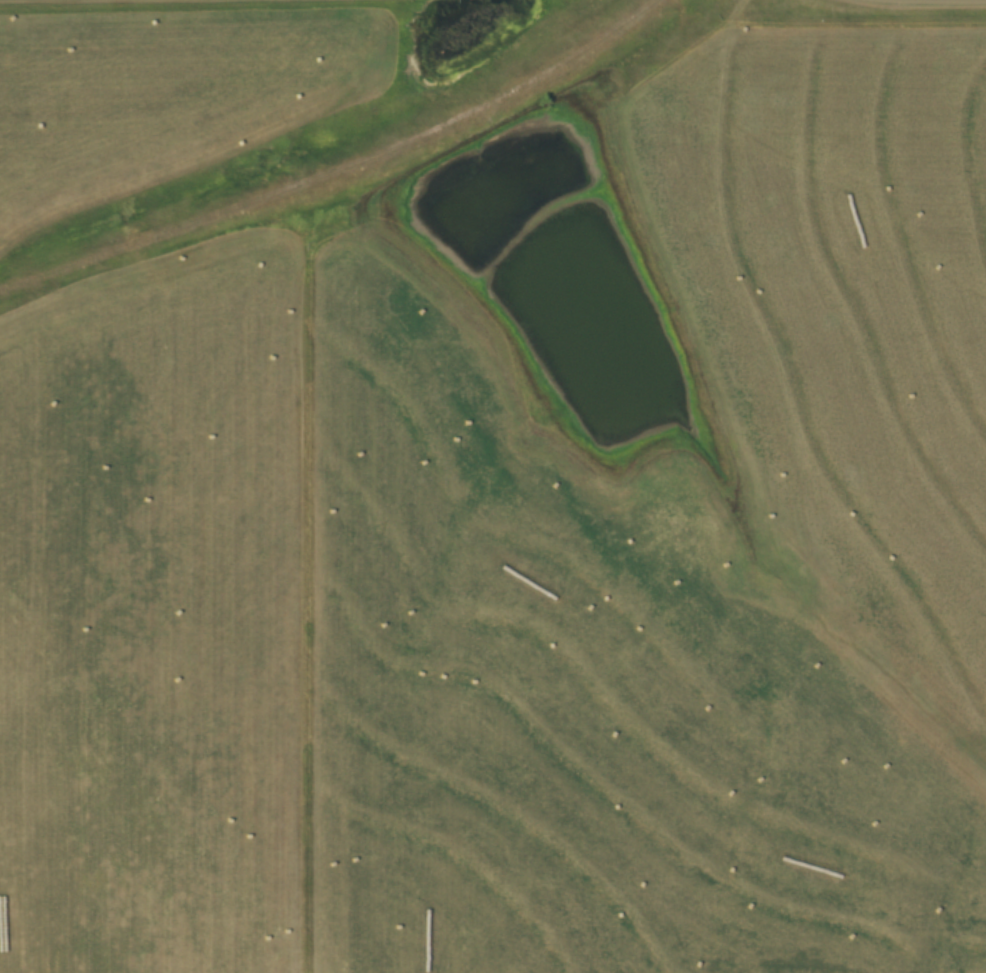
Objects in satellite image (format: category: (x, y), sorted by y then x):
road: (930, 0)
railway: (335, 169)

